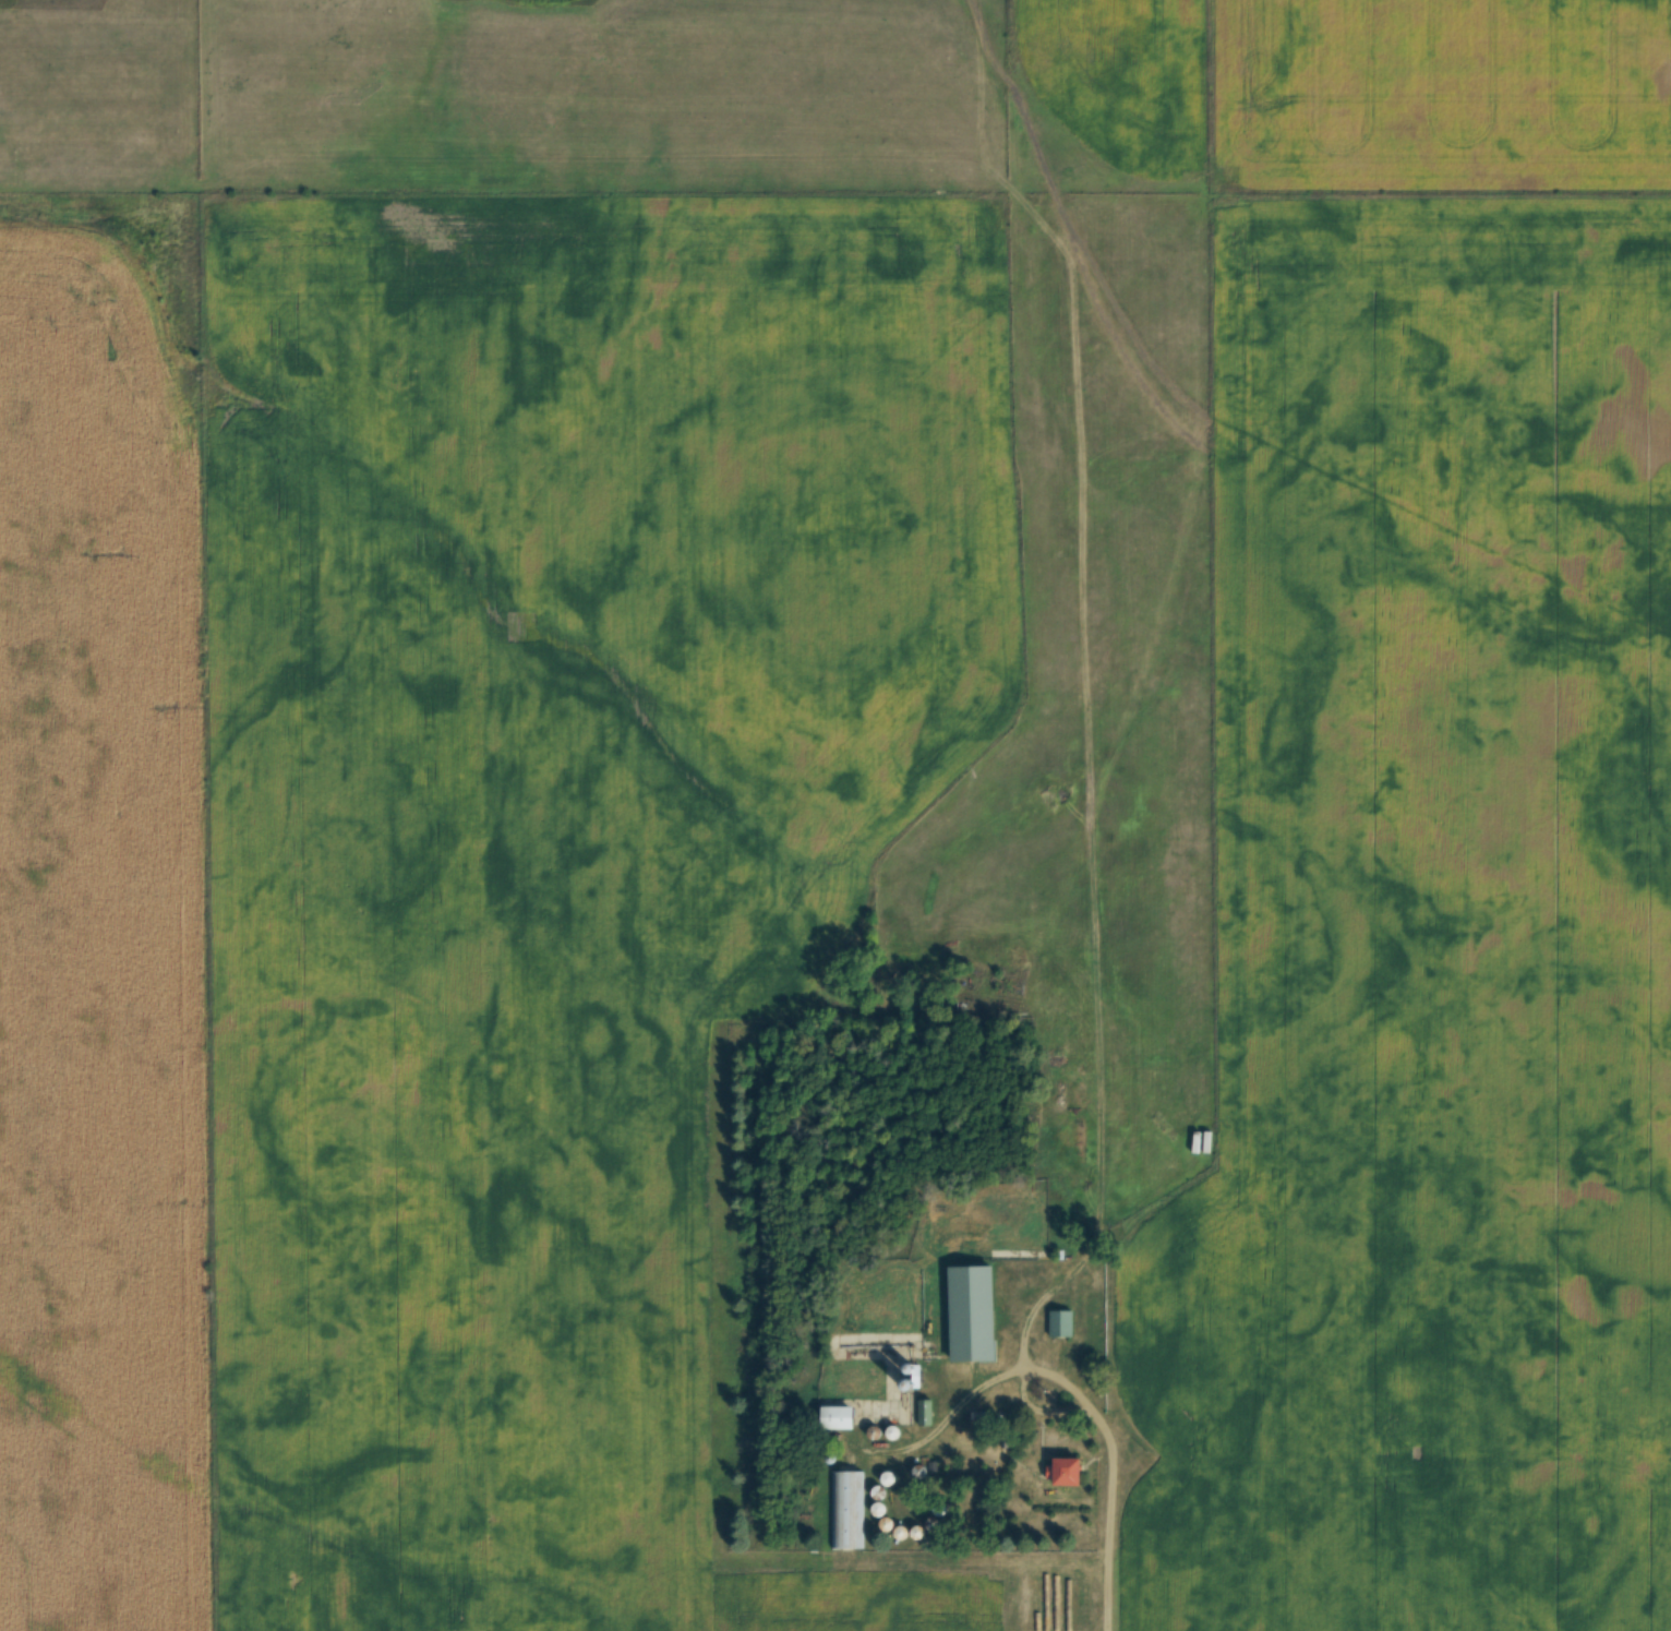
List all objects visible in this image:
building: (971, 1312)
building: (1060, 1323)
building: (837, 1417)
building: (1067, 1472)
building: (846, 1510)
road: (1107, 1545)

